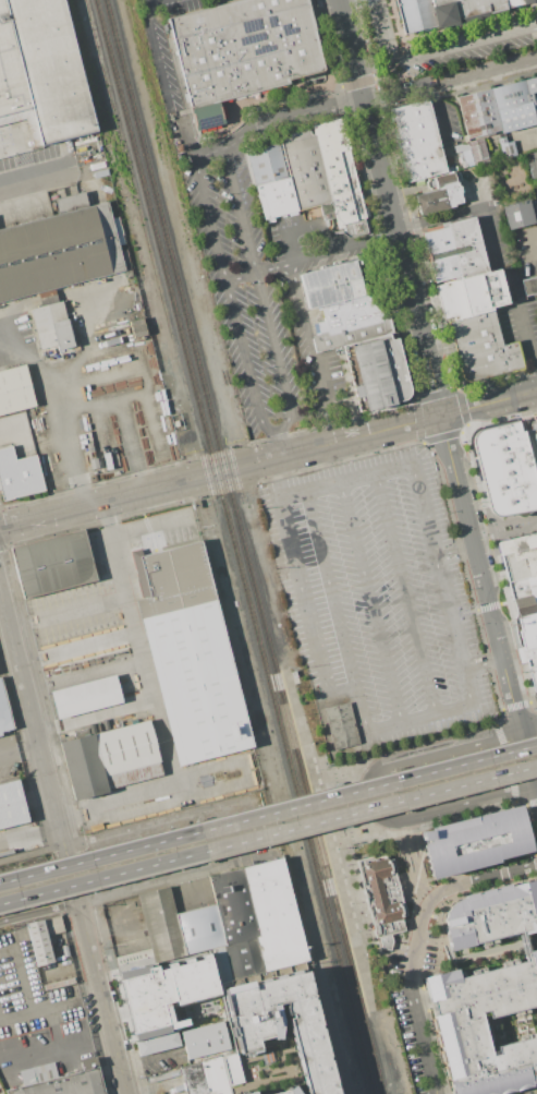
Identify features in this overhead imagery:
parking lot: (184, 5)
building: (464, 8)
building: (407, 15)
road: (378, 22)
road: (437, 29)
road: (320, 40)
road: (392, 43)
road: (329, 44)
road: (446, 49)
building: (242, 50)
road: (374, 51)
road: (160, 53)
parking lot: (448, 59)
road: (500, 67)
building: (42, 70)
road: (424, 84)
road: (264, 98)
road: (343, 100)
building: (499, 108)
road: (277, 117)
building: (416, 139)
building: (505, 147)
building: (464, 152)
building: (477, 152)
building: (533, 167)
building: (307, 168)
building: (341, 175)
road: (34, 177)
building: (273, 180)
road: (407, 193)
building: (438, 194)
road: (391, 207)
building: (517, 214)
road: (440, 218)
road: (487, 219)
road: (305, 227)
road: (533, 242)
building: (58, 248)
building: (459, 250)
road: (314, 254)
road: (382, 255)
railway: (152, 262)
building: (528, 285)
parking lot: (268, 289)
building: (473, 293)
building: (47, 297)
road: (265, 301)
building: (344, 301)
road: (236, 308)
building: (50, 326)
building: (137, 327)
road: (529, 338)
building: (484, 346)
road: (85, 348)
road: (313, 351)
building: (378, 370)
road: (498, 380)
road: (459, 387)
building: (14, 389)
road: (438, 393)
road: (489, 402)
road: (463, 407)
road: (124, 412)
road: (53, 413)
road: (419, 420)
road: (502, 420)
road: (468, 428)
building: (532, 436)
road: (442, 437)
road: (350, 438)
building: (507, 469)
road: (223, 471)
building: (17, 474)
railway: (234, 476)
road: (484, 500)
road: (95, 503)
road: (454, 544)
railway: (234, 546)
railway: (243, 546)
building: (54, 564)
road: (500, 566)
building: (523, 590)
road: (405, 592)
road: (301, 597)
parking lot: (382, 598)
road: (488, 599)
road: (371, 601)
road: (82, 604)
road: (490, 606)
road: (344, 645)
road: (520, 648)
building: (191, 657)
road: (485, 663)
railway: (2, 664)
road: (97, 669)
railway: (37, 687)
building: (88, 697)
road: (152, 702)
road: (533, 704)
road: (516, 706)
building: (4, 713)
road: (109, 718)
road: (30, 719)
building: (342, 726)
road: (17, 743)
road: (410, 745)
road: (437, 753)
building: (110, 759)
road: (505, 761)
road: (356, 800)
road: (522, 803)
road: (532, 803)
building: (11, 804)
road: (460, 806)
road: (268, 813)
road: (158, 819)
road: (422, 826)
road: (530, 830)
road: (29, 834)
road: (268, 834)
railway: (324, 839)
building: (474, 841)
road: (32, 851)
road: (413, 866)
road: (443, 893)
building: (385, 900)
road: (39, 911)
building: (273, 914)
building: (491, 914)
building: (235, 922)
building: (160, 924)
building: (199, 928)
building: (39, 941)
road: (522, 943)
building: (63, 950)
road: (378, 954)
building: (133, 960)
building: (220, 963)
road: (96, 967)
road: (19, 973)
building: (58, 983)
building: (163, 998)
road: (65, 1000)
road: (14, 1013)
parking lot: (36, 1015)
building: (284, 1024)
building: (457, 1026)
road: (422, 1037)
building: (205, 1039)
parking lot: (417, 1045)
road: (58, 1048)
road: (143, 1058)
building: (204, 1077)
building: (61, 1080)
railway: (361, 1085)
building: (285, 1092)

